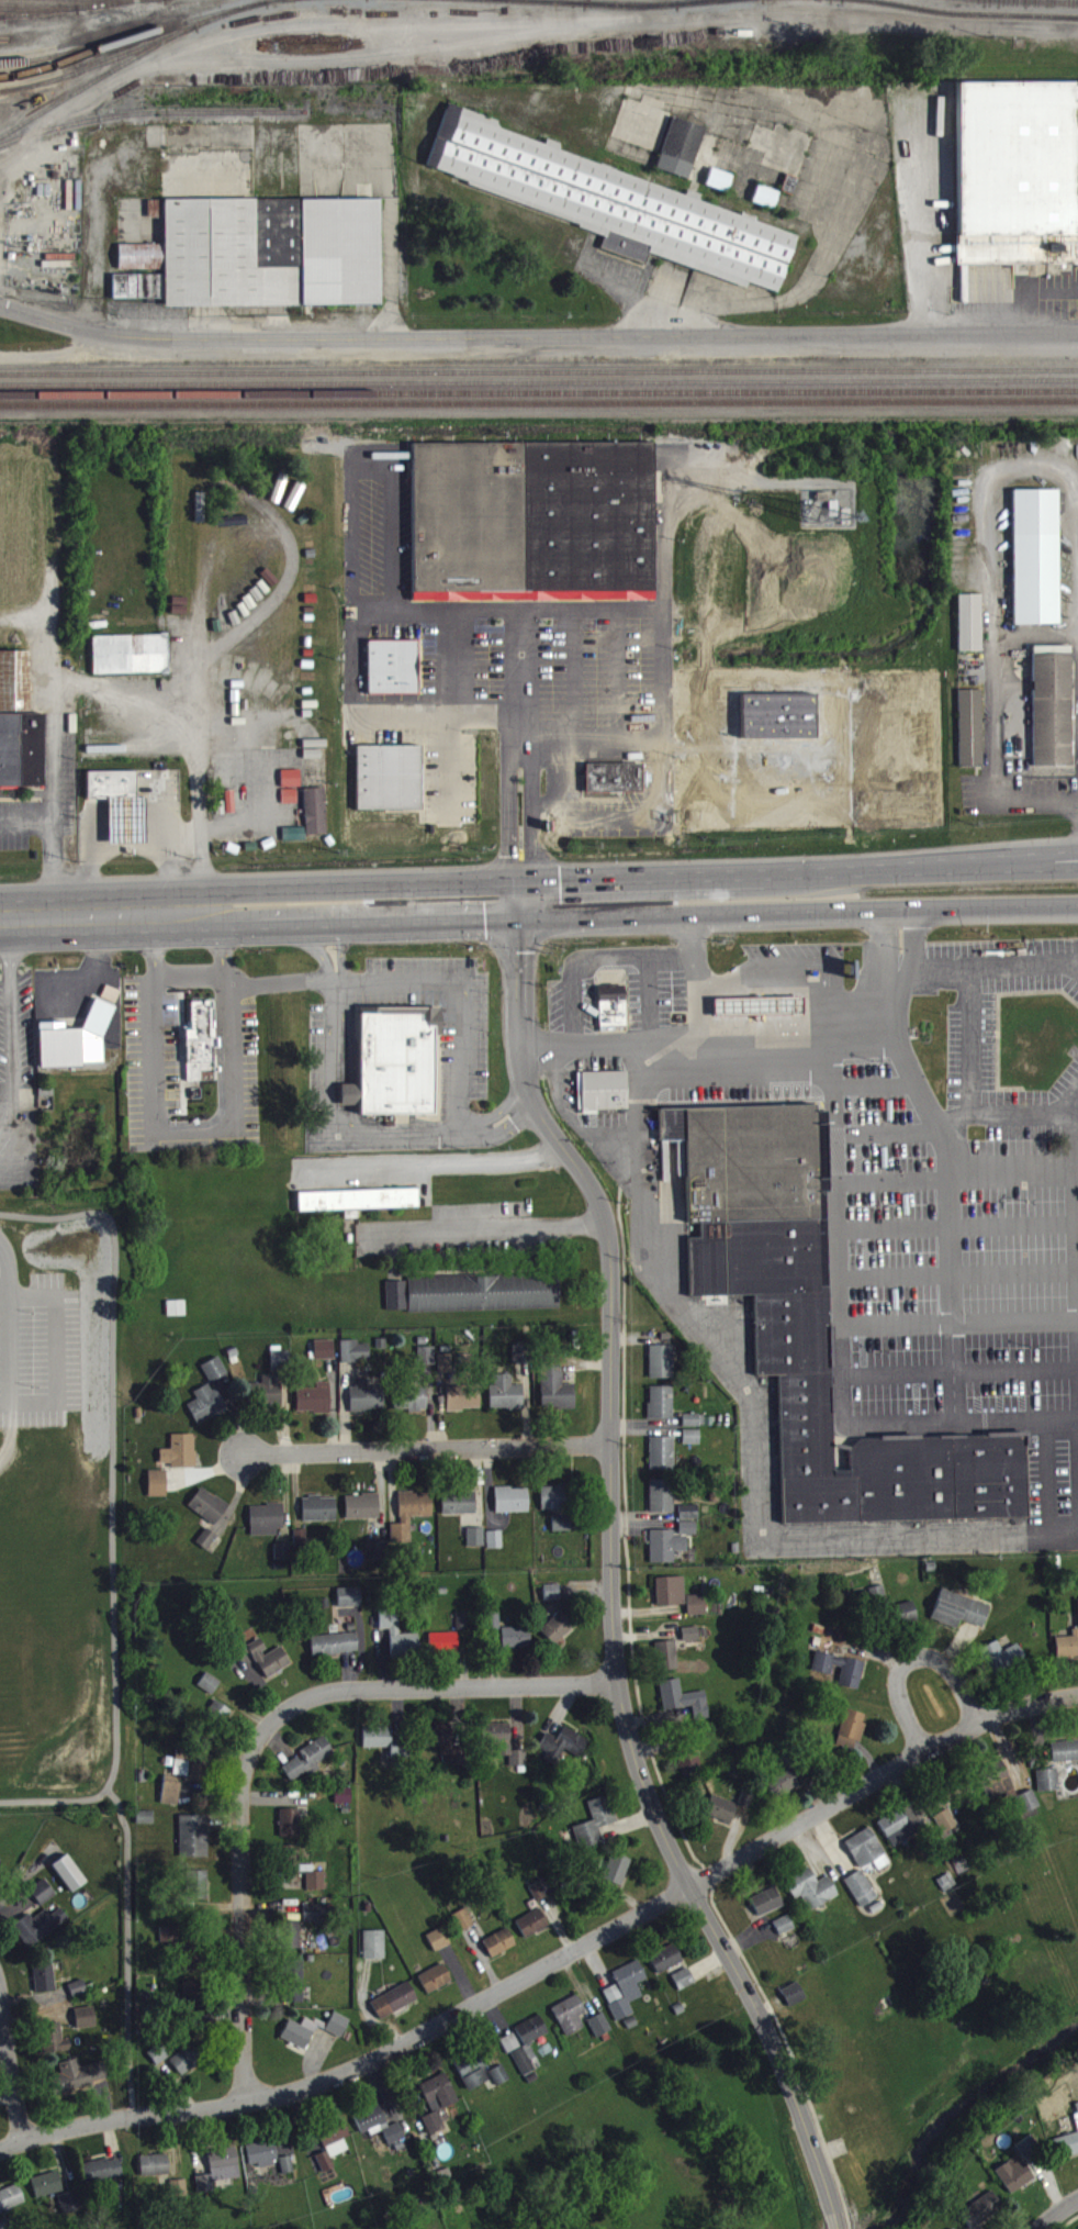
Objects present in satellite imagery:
railway: (662, 0)
railway: (954, 5)
railway: (83, 7)
railway: (715, 7)
railway: (538, 9)
railway: (136, 11)
railway: (40, 18)
railway: (921, 18)
railway: (135, 43)
railway: (176, 46)
railway: (75, 68)
railway: (100, 73)
railway: (457, 75)
railway: (151, 122)
building: (682, 156)
building: (1014, 170)
building: (720, 188)
building: (766, 204)
building: (610, 211)
building: (259, 261)
road: (536, 347)
railway: (539, 369)
railway: (539, 379)
railway: (539, 390)
railway: (539, 401)
road: (367, 470)
road: (707, 491)
road: (984, 498)
building: (529, 520)
building: (1035, 566)
building: (972, 632)
road: (997, 639)
building: (131, 662)
building: (392, 664)
building: (255, 679)
road: (520, 681)
building: (269, 694)
building: (1053, 714)
road: (648, 717)
building: (972, 736)
road: (447, 771)
building: (386, 776)
building: (616, 787)
building: (291, 794)
road: (992, 803)
building: (121, 813)
road: (50, 814)
road: (508, 816)
road: (531, 816)
road: (25, 818)
road: (640, 818)
building: (311, 825)
road: (1046, 857)
road: (1046, 866)
road: (617, 878)
traffic signals: (521, 880)
road: (996, 911)
road: (110, 912)
road: (566, 917)
traffic signals: (520, 920)
road: (222, 940)
road: (154, 943)
road: (913, 949)
road: (885, 951)
road: (665, 954)
road: (642, 959)
road: (520, 961)
road: (817, 966)
road: (996, 968)
road: (333, 978)
road: (695, 978)
road: (730, 983)
road: (461, 1002)
building: (752, 1005)
road: (569, 1010)
road: (896, 1013)
building: (613, 1015)
building: (760, 1015)
road: (12, 1025)
road: (833, 1025)
building: (196, 1038)
road: (707, 1040)
road: (972, 1040)
building: (77, 1048)
road: (560, 1054)
building: (1038, 1057)
building: (390, 1058)
road: (154, 1065)
road: (560, 1084)
building: (604, 1100)
road: (1075, 1105)
road: (335, 1115)
road: (481, 1134)
road: (471, 1136)
road: (599, 1147)
road: (1073, 1149)
road: (430, 1161)
road: (946, 1178)
building: (359, 1208)
road: (489, 1230)
parking lot: (950, 1257)
road: (10, 1281)
building: (484, 1302)
building: (397, 1304)
road: (7, 1309)
building: (177, 1317)
road: (1017, 1325)
building: (815, 1326)
building: (325, 1358)
building: (356, 1360)
road: (14, 1361)
road: (59, 1361)
building: (521, 1363)
building: (280, 1369)
building: (662, 1371)
building: (446, 1372)
road: (1076, 1375)
building: (215, 1378)
building: (557, 1397)
building: (271, 1400)
building: (506, 1403)
building: (367, 1406)
building: (463, 1406)
building: (415, 1407)
building: (314, 1408)
building: (661, 1412)
road: (7, 1413)
building: (206, 1413)
building: (694, 1429)
road: (752, 1436)
building: (692, 1446)
road: (427, 1447)
building: (181, 1460)
building: (662, 1462)
building: (158, 1492)
building: (662, 1505)
building: (557, 1506)
building: (513, 1508)
building: (459, 1512)
building: (416, 1513)
building: (209, 1514)
building: (362, 1515)
building: (319, 1517)
building: (689, 1520)
building: (267, 1528)
building: (562, 1531)
building: (688, 1537)
building: (401, 1542)
building: (475, 1546)
building: (301, 1547)
building: (206, 1548)
building: (495, 1548)
building: (666, 1554)
building: (379, 1558)
building: (283, 1560)
building: (671, 1600)
building: (552, 1601)
building: (350, 1606)
building: (696, 1614)
building: (959, 1618)
building: (494, 1629)
building: (462, 1630)
building: (558, 1637)
road: (610, 1638)
building: (398, 1642)
building: (690, 1642)
building: (516, 1646)
building: (443, 1651)
building: (335, 1653)
building: (1067, 1653)
road: (910, 1659)
building: (262, 1664)
building: (665, 1664)
building: (1002, 1665)
building: (840, 1678)
building: (210, 1693)
building: (684, 1708)
building: (222, 1724)
road: (258, 1734)
building: (852, 1738)
building: (385, 1750)
building: (446, 1750)
building: (502, 1752)
building: (562, 1754)
building: (1065, 1760)
building: (308, 1768)
building: (690, 1772)
building: (193, 1774)
building: (787, 1788)
building: (1048, 1788)
building: (997, 1791)
building: (171, 1798)
building: (344, 1805)
building: (1029, 1810)
building: (721, 1817)
building: (146, 1826)
building: (946, 1829)
building: (290, 1831)
building: (595, 1831)
building: (902, 1832)
building: (194, 1845)
building: (867, 1859)
building: (0, 1873)
building: (302, 1877)
building: (617, 1877)
building: (69, 1882)
building: (198, 1894)
building: (811, 1897)
building: (861, 1897)
building: (43, 1901)
building: (767, 1910)
building: (315, 1922)
building: (463, 1929)
building: (532, 1932)
building: (41, 1933)
building: (784, 1933)
building: (168, 1943)
building: (291, 1944)
building: (438, 1948)
building: (499, 1952)
building: (374, 1953)
road: (552, 1962)
building: (193, 1963)
building: (666, 1968)
building: (45, 1986)
building: (436, 1987)
building: (684, 1987)
building: (293, 1991)
building: (78, 1996)
building: (625, 1997)
building: (794, 2003)
building: (394, 2009)
building: (570, 2024)
building: (86, 2026)
building: (599, 2033)
building: (313, 2039)
building: (55, 2048)
building: (510, 2052)
building: (527, 2053)
building: (158, 2062)
road: (13, 2064)
building: (187, 2069)
building: (474, 2081)
building: (501, 2084)
building: (77, 2085)
building: (439, 2102)
building: (1076, 2128)
building: (433, 2131)
building: (379, 2133)
building: (333, 2152)
building: (1066, 2154)
building: (1029, 2156)
building: (261, 2163)
building: (154, 2174)
building: (287, 2174)
building: (220, 2177)
building: (102, 2180)
building: (1014, 2183)
building: (46, 2193)
building: (11, 2207)
building: (70, 2211)
building: (982, 2217)
road: (1063, 2217)
road: (835, 2220)

